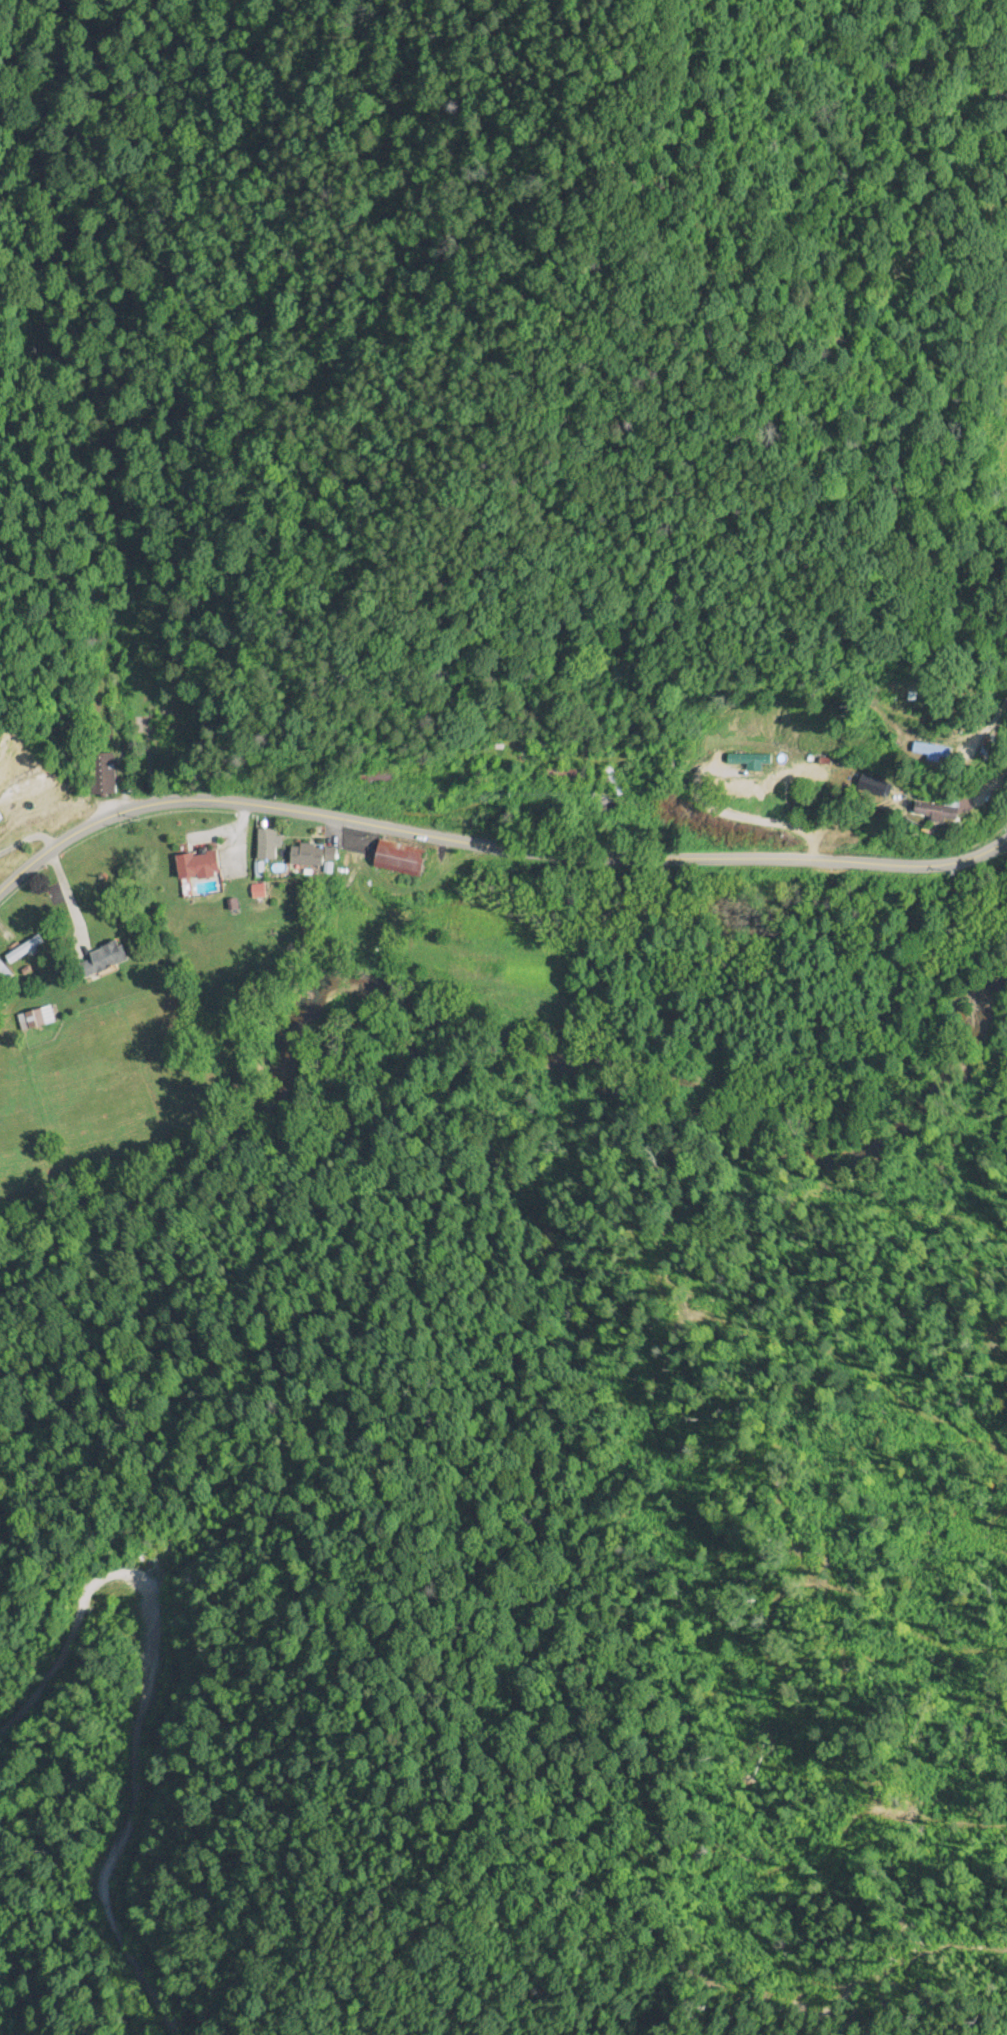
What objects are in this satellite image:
road: (997, 675)
road: (943, 685)
road: (487, 800)
road: (377, 984)

